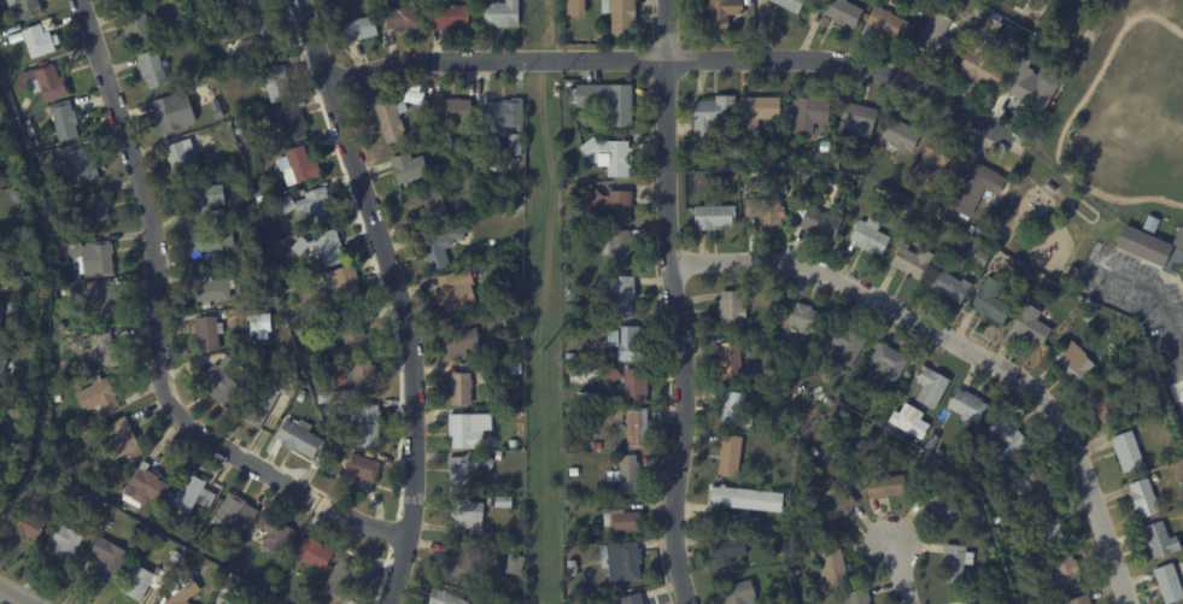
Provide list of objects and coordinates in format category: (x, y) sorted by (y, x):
building: (119, 0)
building: (929, 1)
building: (1085, 1)
building: (1105, 2)
building: (789, 5)
building: (575, 7)
building: (27, 8)
building: (246, 8)
building: (977, 10)
building: (839, 12)
building: (505, 14)
building: (452, 16)
building: (716, 16)
building: (1037, 16)
building: (411, 17)
building: (625, 17)
building: (885, 23)
building: (139, 25)
building: (986, 27)
power tower: (543, 29)
building: (7, 30)
building: (361, 30)
building: (198, 37)
building: (937, 40)
building: (41, 42)
building: (263, 43)
building: (1076, 49)
building: (1062, 54)
road: (675, 60)
building: (982, 66)
building: (156, 70)
building: (47, 83)
building: (274, 83)
building: (1030, 87)
building: (611, 101)
building: (221, 110)
building: (455, 111)
building: (756, 111)
building: (808, 112)
building: (177, 113)
building: (398, 115)
building: (505, 118)
building: (709, 118)
building: (855, 118)
building: (68, 122)
building: (292, 122)
building: (226, 127)
building: (242, 130)
building: (898, 133)
building: (429, 135)
building: (731, 140)
building: (451, 141)
building: (519, 145)
building: (825, 146)
building: (468, 149)
building: (498, 151)
building: (613, 157)
building: (185, 158)
building: (812, 158)
building: (937, 159)
building: (444, 165)
building: (77, 168)
building: (303, 168)
building: (411, 170)
building: (976, 174)
building: (801, 177)
building: (1013, 186)
building: (1050, 187)
building: (520, 188)
building: (879, 189)
building: (248, 190)
building: (262, 192)
building: (18, 197)
road: (144, 199)
building: (766, 203)
building: (207, 204)
building: (617, 205)
building: (429, 206)
building: (936, 206)
building: (314, 207)
building: (94, 210)
building: (710, 215)
building: (1149, 222)
building: (819, 223)
building: (869, 236)
building: (1179, 239)
building: (1050, 242)
building: (64, 244)
building: (1142, 244)
building: (212, 245)
building: (304, 247)
building: (333, 248)
building: (445, 248)
building: (621, 248)
building: (24, 251)
building: (1042, 256)
building: (980, 257)
building: (98, 259)
building: (910, 262)
building: (996, 264)
building: (2, 271)
building: (1068, 276)
building: (28, 283)
building: (947, 285)
building: (212, 289)
building: (342, 291)
road: (1154, 291)
building: (459, 292)
building: (482, 294)
road: (398, 297)
building: (574, 297)
building: (78, 298)
building: (275, 298)
building: (626, 298)
building: (107, 300)
building: (989, 301)
road: (672, 303)
building: (736, 310)
building: (515, 311)
building: (1090, 313)
building: (2, 318)
building: (293, 318)
building: (807, 319)
building: (452, 321)
building: (236, 322)
building: (1027, 324)
building: (63, 327)
building: (211, 335)
building: (356, 335)
building: (522, 338)
building: (123, 341)
building: (464, 341)
building: (627, 344)
building: (850, 346)
power tower: (544, 351)
building: (103, 353)
road: (961, 353)
building: (321, 357)
building: (733, 362)
building: (891, 363)
building: (1070, 364)
building: (4, 370)
building: (488, 374)
building: (791, 374)
building: (223, 381)
building: (358, 385)
building: (633, 386)
building: (936, 388)
building: (59, 389)
building: (464, 391)
building: (304, 397)
building: (58, 398)
building: (103, 398)
building: (273, 398)
building: (239, 400)
building: (860, 400)
building: (833, 403)
building: (1101, 403)
building: (971, 406)
building: (740, 412)
building: (909, 420)
building: (1, 424)
building: (370, 426)
building: (107, 430)
building: (640, 430)
building: (473, 432)
building: (59, 434)
building: (921, 436)
building: (300, 439)
building: (342, 440)
building: (1009, 440)
building: (128, 441)
building: (961, 441)
building: (933, 442)
building: (508, 445)
building: (599, 446)
building: (19, 448)
building: (943, 451)
building: (1126, 451)
building: (980, 452)
building: (816, 453)
building: (500, 456)
building: (734, 457)
building: (338, 459)
building: (931, 459)
building: (322, 461)
building: (595, 461)
building: (362, 471)
building: (472, 471)
building: (575, 473)
building: (634, 474)
building: (1154, 477)
road: (283, 479)
building: (1035, 486)
building: (1181, 486)
building: (890, 487)
building: (147, 488)
building: (195, 494)
building: (1141, 498)
building: (493, 502)
building: (750, 502)
building: (508, 503)
building: (947, 504)
building: (841, 505)
building: (117, 506)
building: (205, 515)
building: (239, 515)
building: (469, 517)
building: (625, 522)
building: (998, 522)
building: (28, 523)
building: (277, 535)
building: (991, 535)
building: (1011, 535)
building: (1052, 535)
building: (1158, 539)
building: (68, 543)
building: (785, 543)
building: (731, 547)
building: (315, 553)
building: (784, 555)
building: (574, 557)
building: (111, 561)
building: (626, 563)
building: (960, 564)
building: (516, 565)
building: (464, 569)
building: (834, 569)
building: (574, 570)
building: (1038, 574)
road: (901, 575)
building: (1070, 575)
building: (349, 579)
building: (282, 582)
building: (147, 584)
building: (1166, 584)
building: (187, 591)
building: (574, 593)
building: (742, 594)
building: (299, 596)
building: (1046, 596)
building: (262, 597)
building: (860, 598)
road: (7, 599)
building: (449, 599)
building: (636, 599)
building: (1084, 600)
building: (227, 602)
building: (968, 602)
building: (1039, 602)
building: (579, 603)
building: (1033, 603)

